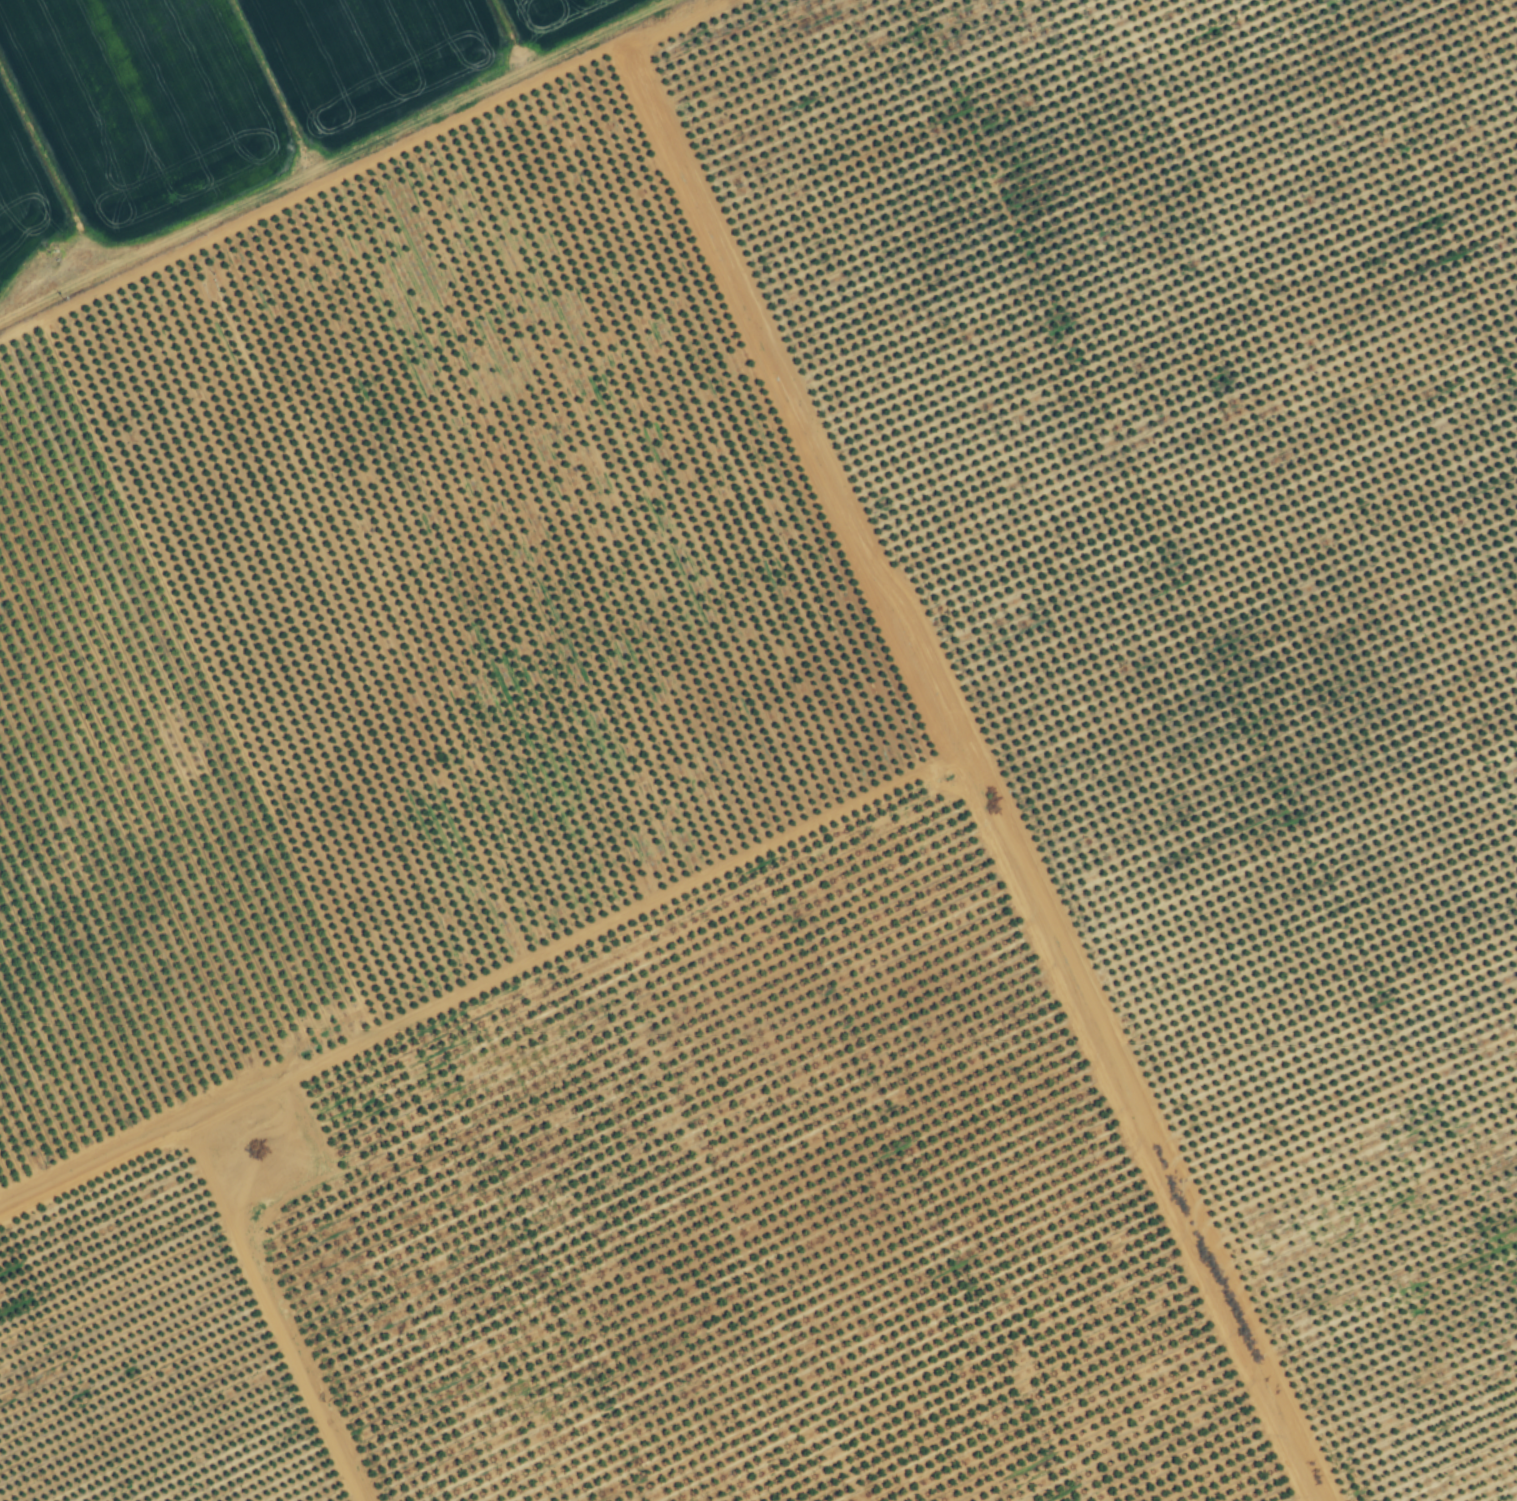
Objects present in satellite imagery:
road: (1510, 12)
road: (326, 152)
road: (941, 765)
road: (466, 981)
road: (197, 1333)

